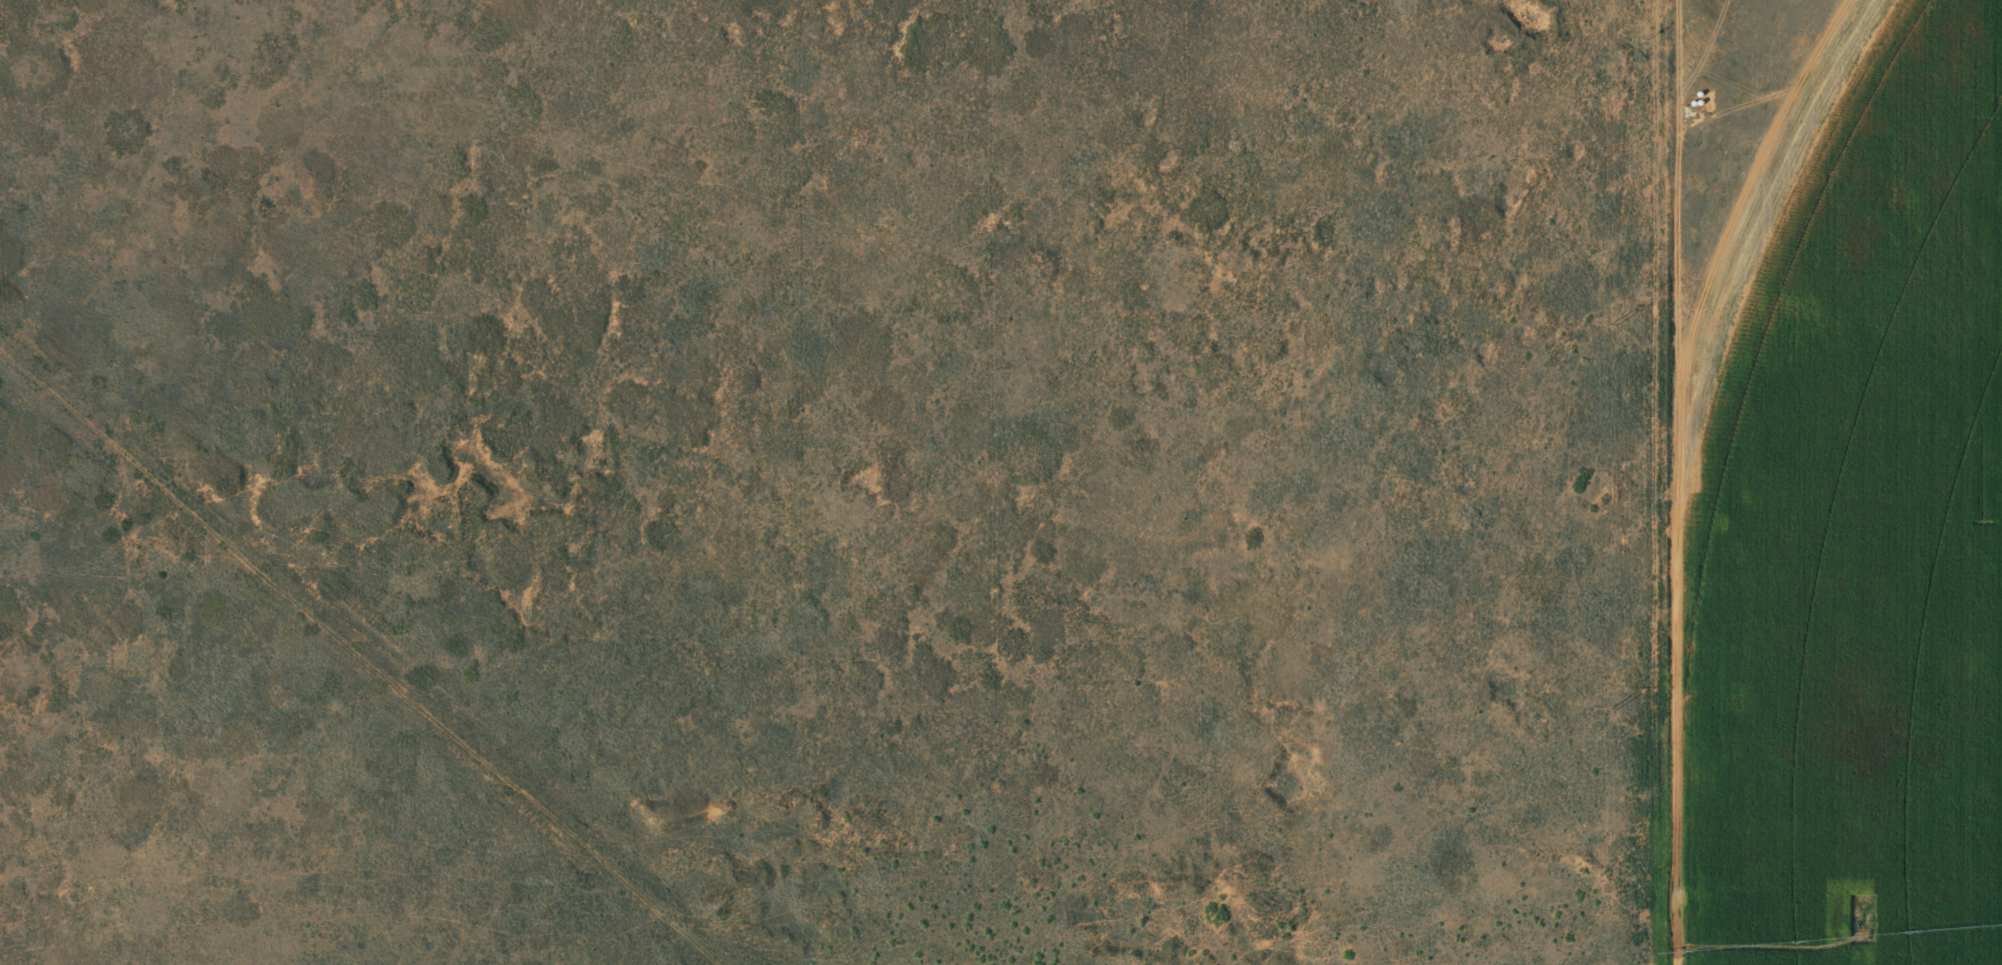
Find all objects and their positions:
power tower: (1618, 324)
road: (1668, 482)
crop: (1859, 542)
power tower: (1614, 707)

